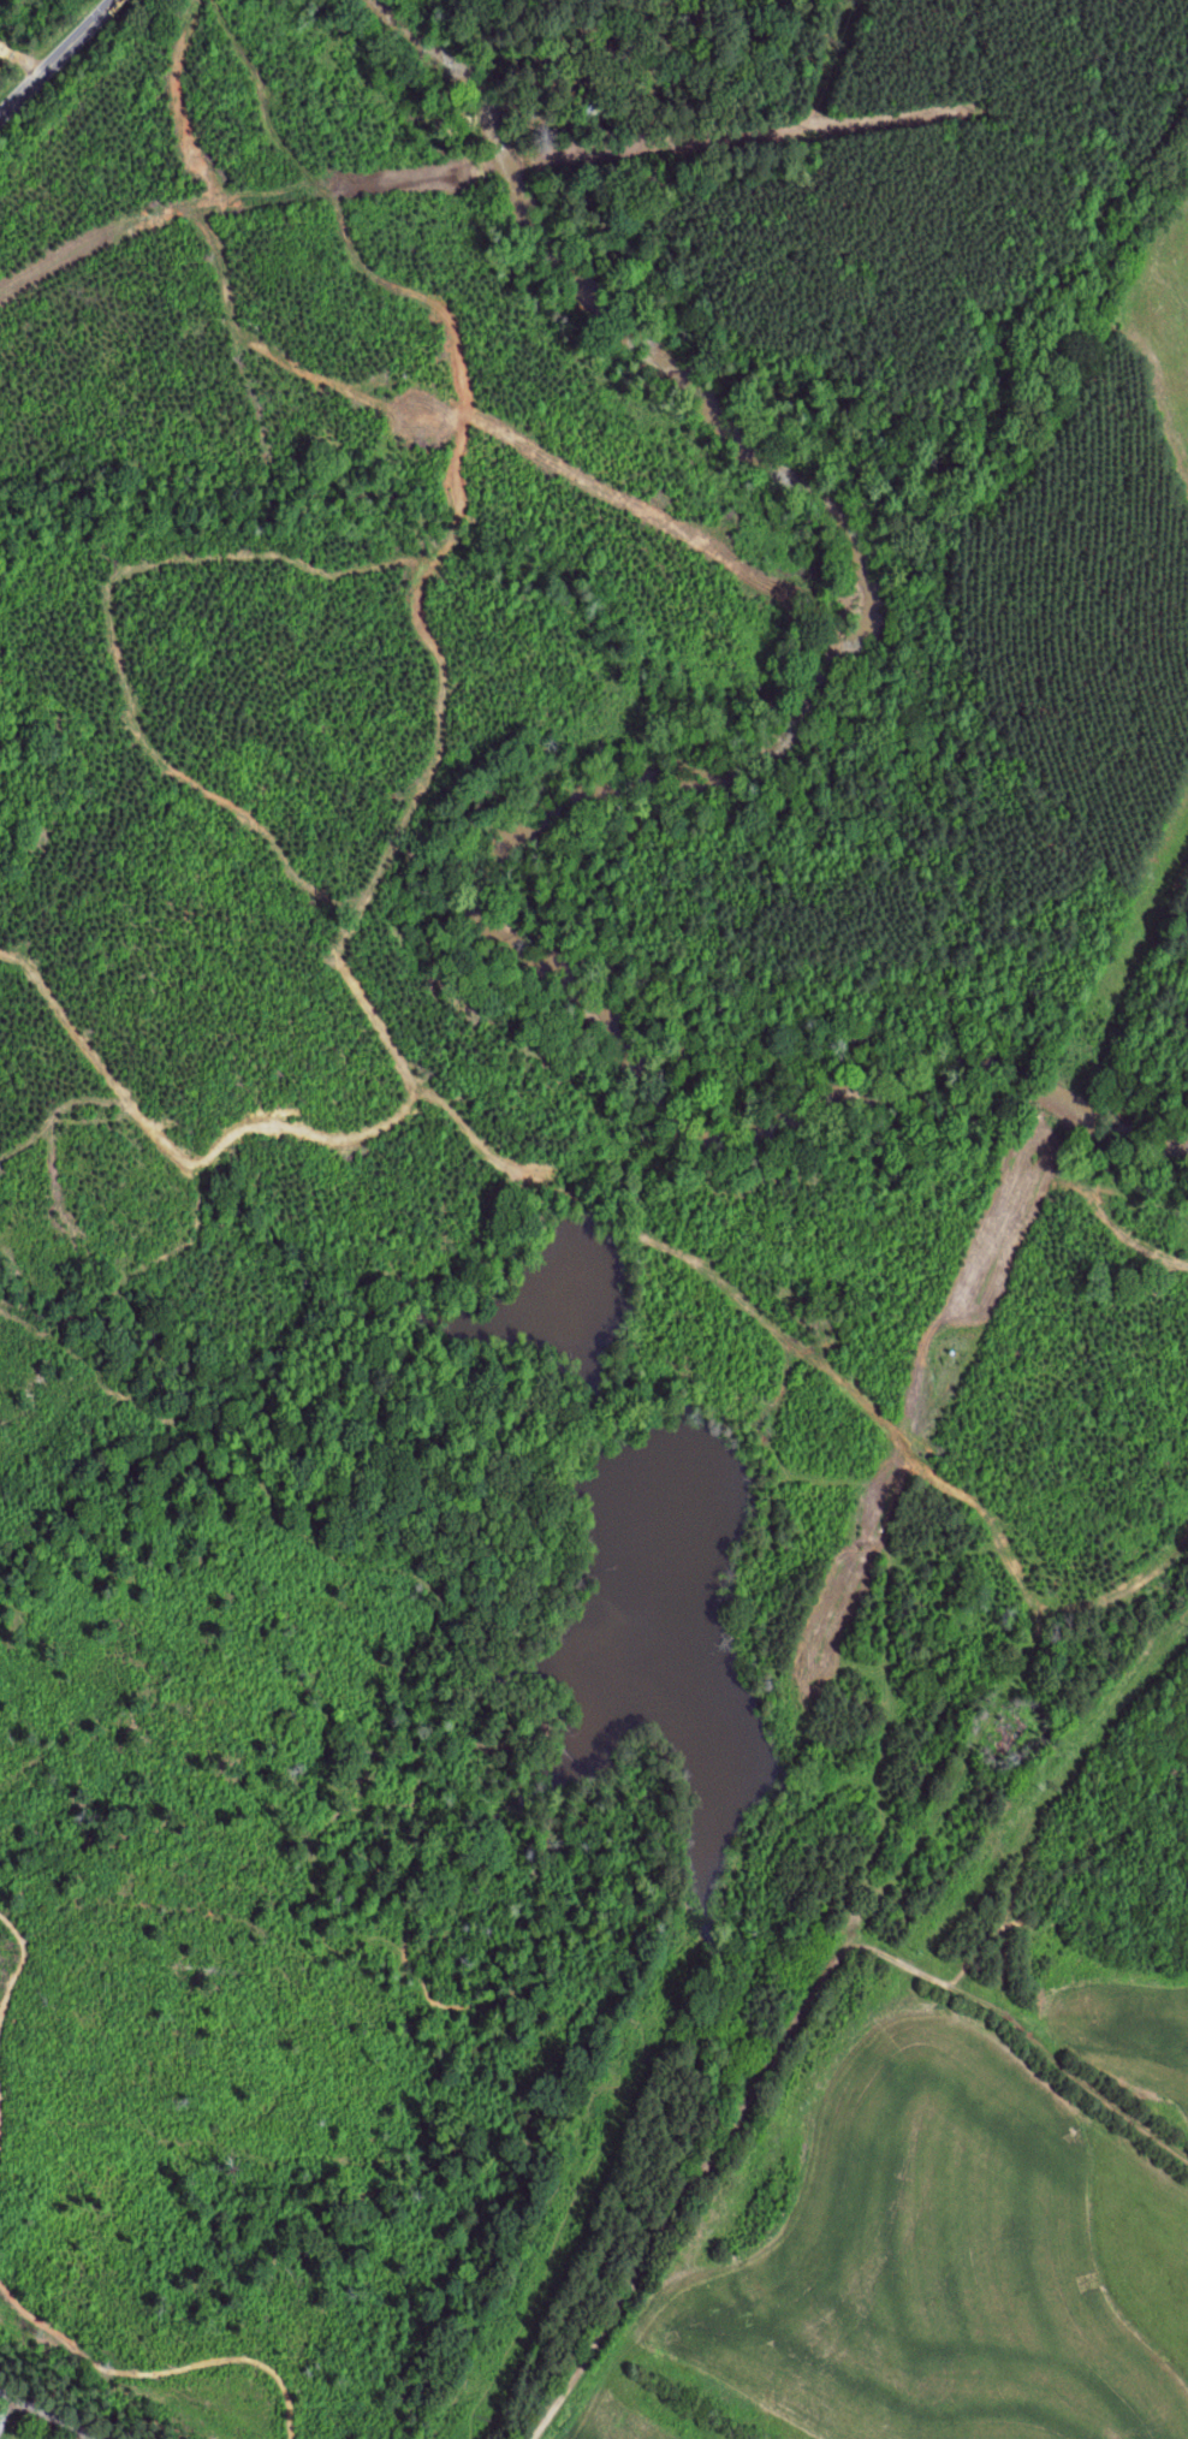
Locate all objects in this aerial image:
road: (55, 58)
road: (1014, 1722)
road: (813, 1994)
road: (7, 2022)
road: (1043, 2051)
road: (691, 2183)
road: (159, 2369)
road: (4, 2405)
road: (43, 2416)

